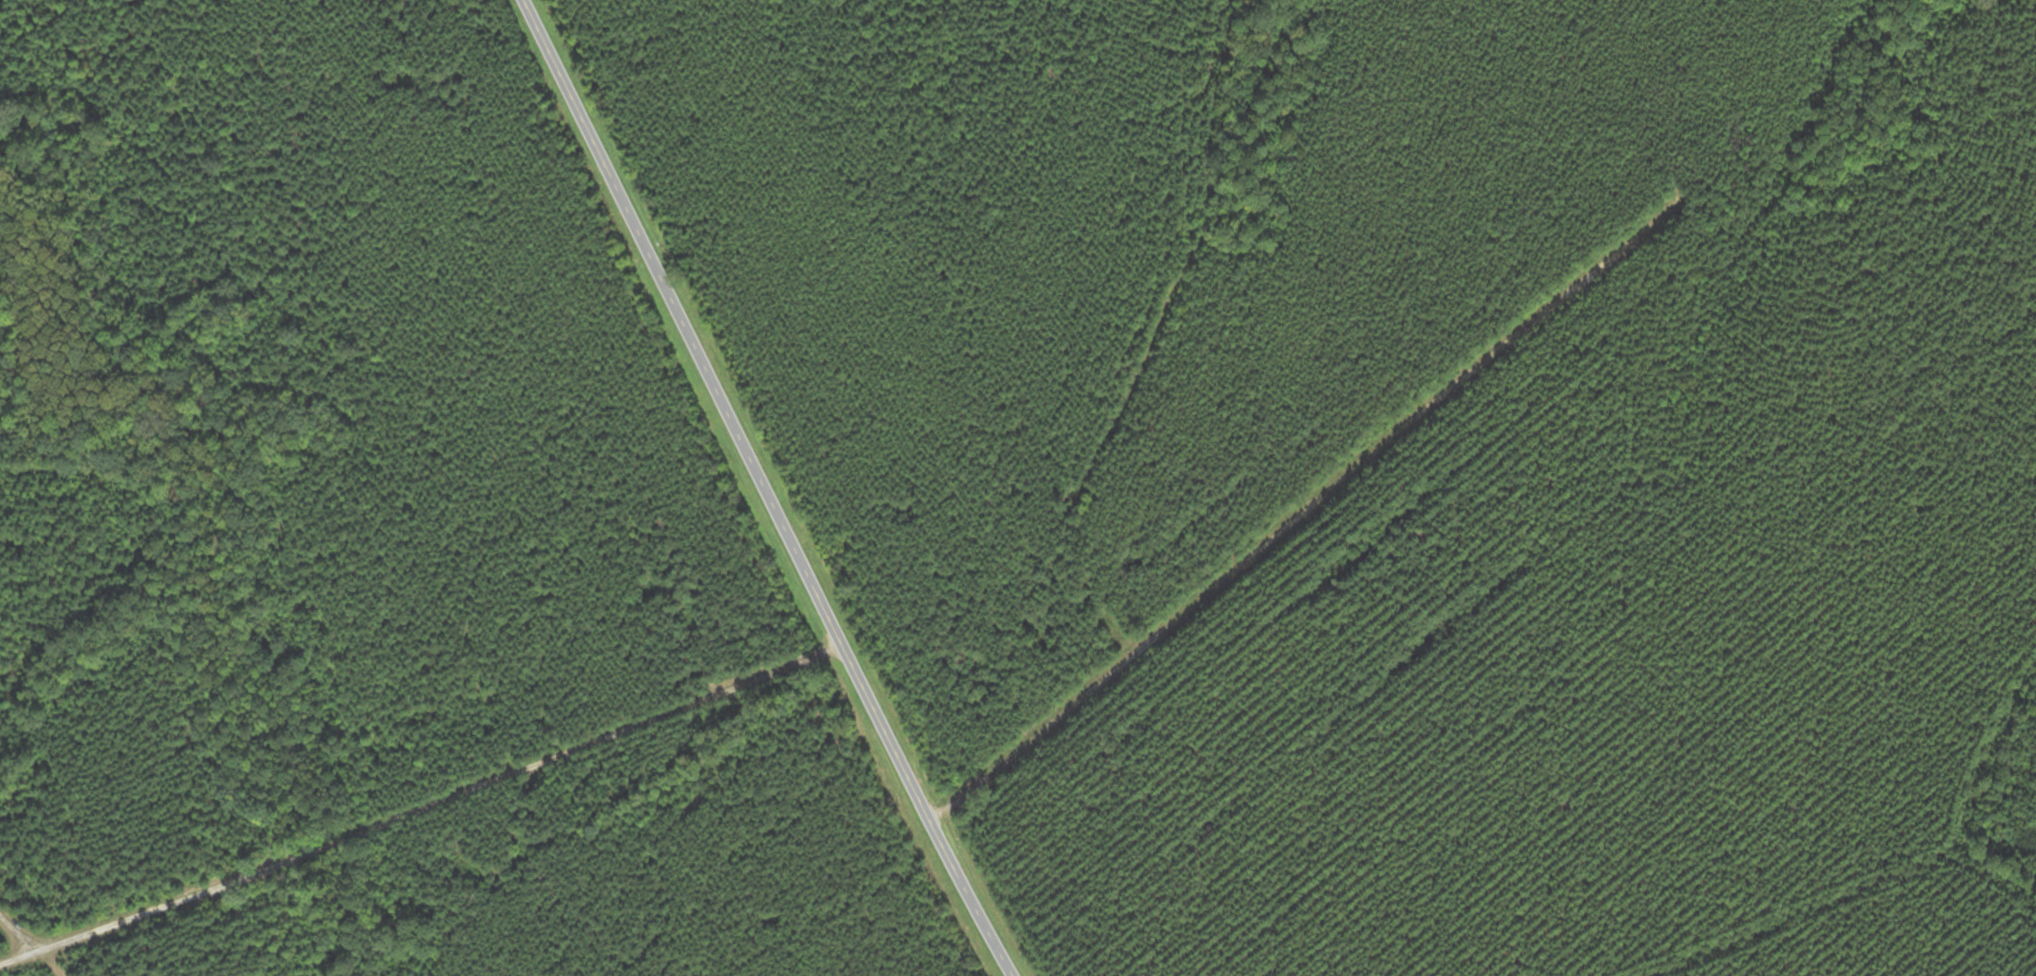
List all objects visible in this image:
road: (765, 489)
road: (1280, 532)
road: (421, 807)
road: (22, 924)

